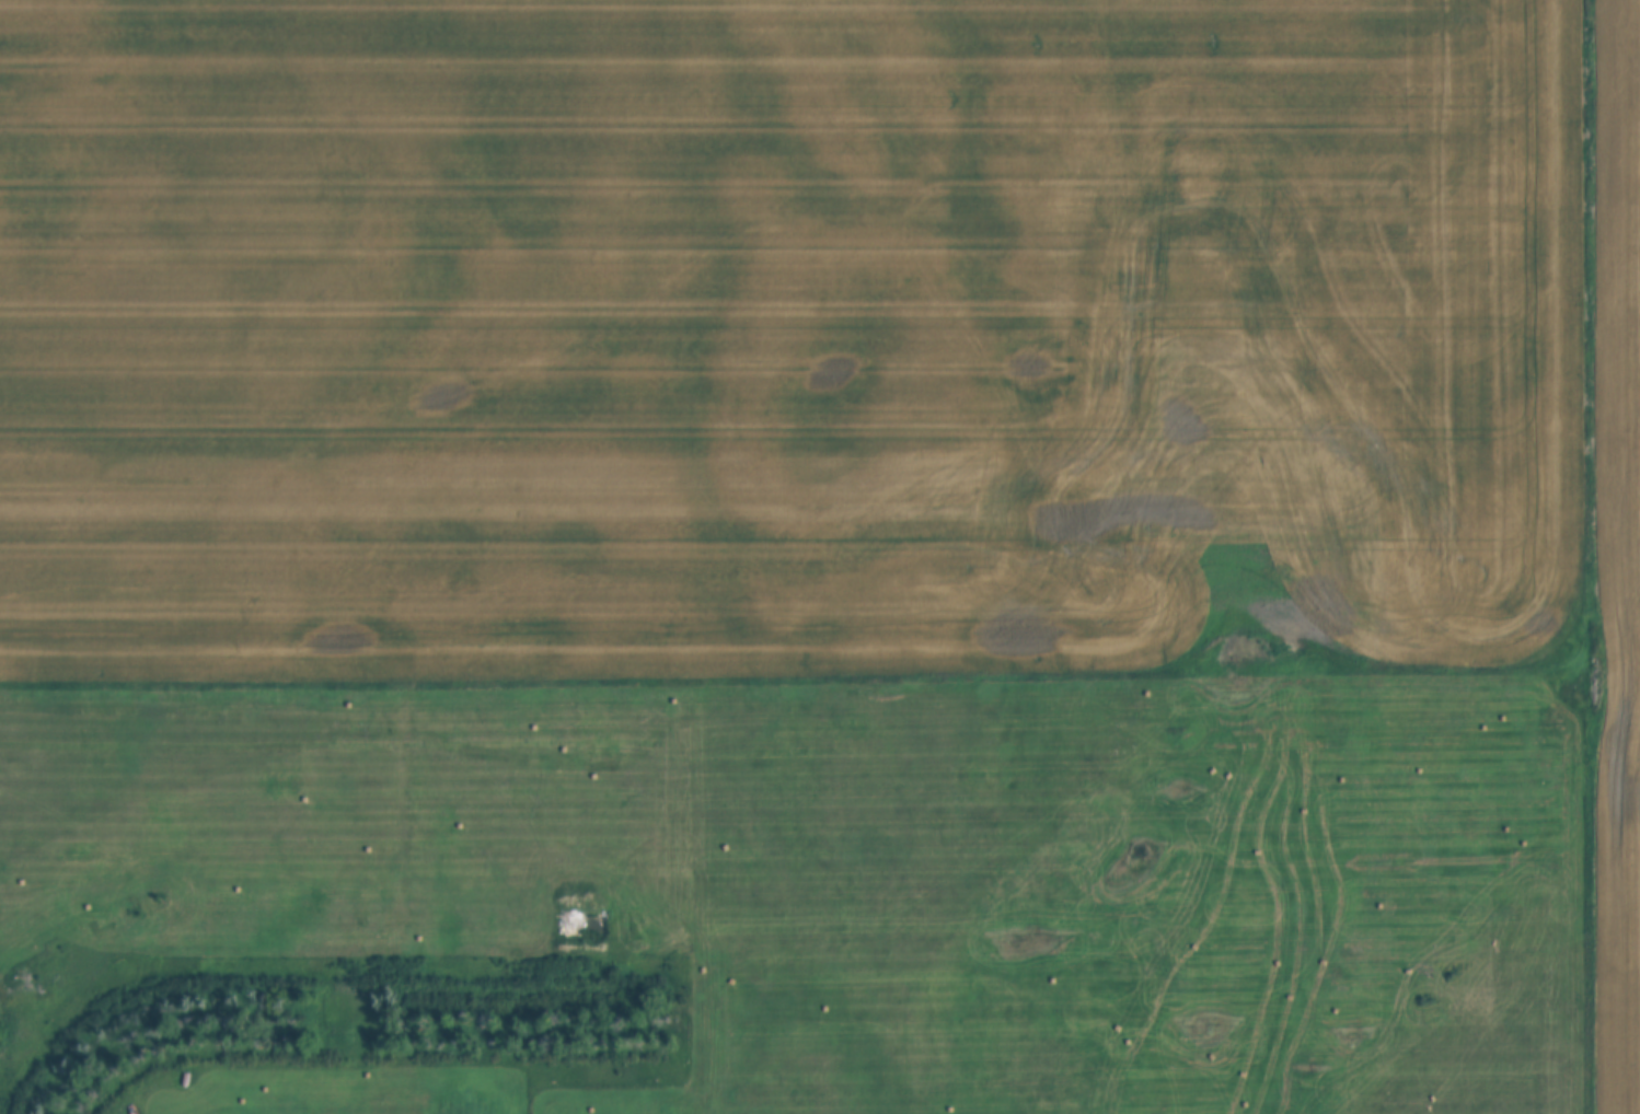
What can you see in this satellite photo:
building: (174, 1094)

